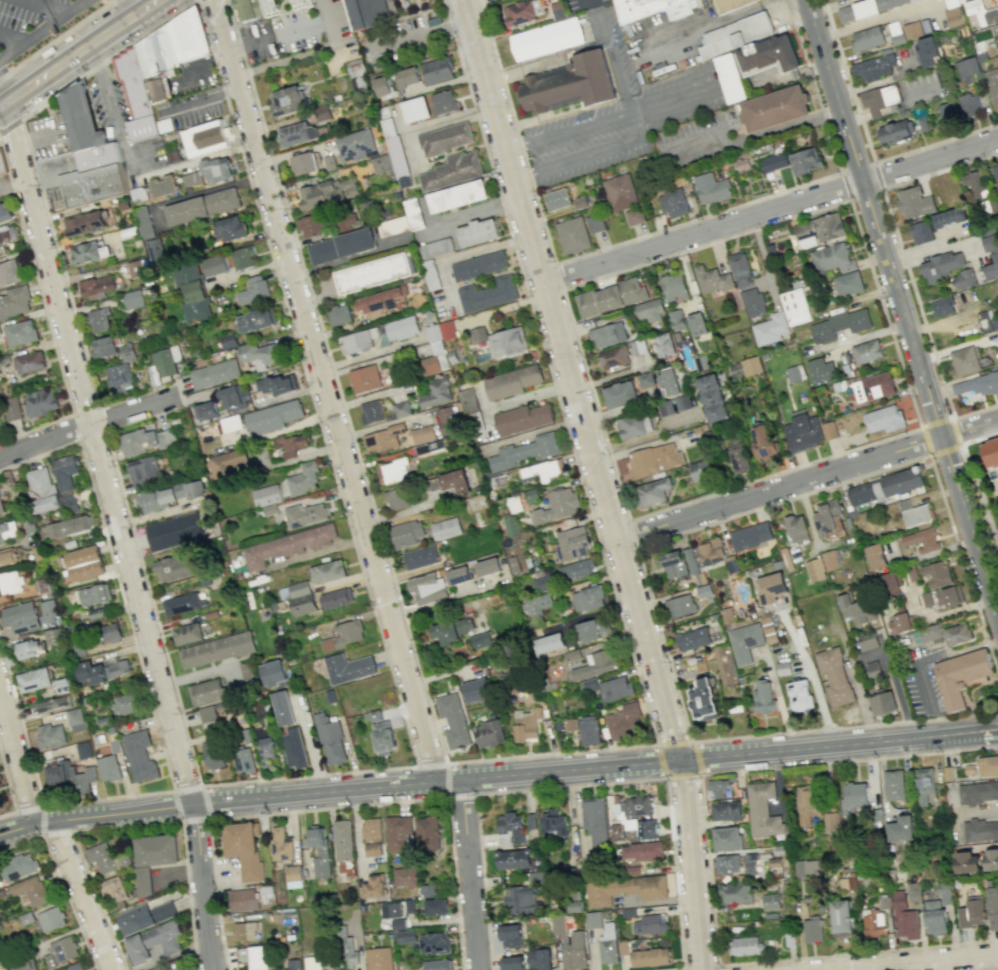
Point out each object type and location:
building: (503, 0)
building: (300, 3)
building: (731, 6)
road: (45, 7)
road: (129, 7)
building: (270, 7)
building: (639, 8)
building: (246, 10)
building: (872, 10)
building: (523, 12)
building: (981, 12)
building: (366, 13)
building: (953, 16)
parking lot: (25, 17)
road: (888, 19)
road: (728, 21)
road: (315, 24)
building: (912, 29)
road: (44, 30)
building: (188, 35)
road: (425, 36)
building: (735, 36)
road: (56, 38)
parking lot: (665, 38)
building: (866, 38)
road: (12, 39)
building: (546, 40)
road: (243, 42)
parking lot: (256, 42)
building: (996, 45)
building: (927, 50)
road: (76, 51)
road: (612, 54)
building: (768, 57)
road: (108, 58)
building: (157, 63)
building: (874, 66)
building: (354, 67)
building: (967, 67)
road: (201, 69)
building: (437, 70)
road: (790, 73)
parking lot: (193, 76)
building: (408, 77)
building: (730, 79)
road: (848, 81)
building: (383, 85)
building: (574, 85)
road: (813, 85)
building: (992, 85)
road: (2, 94)
parking lot: (681, 96)
building: (138, 98)
building: (879, 98)
road: (200, 99)
building: (288, 100)
road: (670, 101)
building: (443, 102)
building: (971, 103)
parking lot: (191, 107)
road: (111, 108)
building: (415, 109)
building: (775, 110)
building: (947, 111)
building: (81, 118)
parking lot: (121, 122)
road: (9, 124)
road: (637, 126)
road: (764, 132)
building: (896, 132)
building: (298, 134)
parking lot: (49, 135)
building: (204, 138)
building: (445, 138)
road: (35, 140)
parking lot: (699, 142)
road: (935, 143)
building: (355, 145)
building: (395, 152)
road: (196, 160)
building: (805, 161)
building: (774, 162)
building: (302, 163)
building: (380, 163)
building: (2, 164)
road: (856, 167)
building: (217, 170)
road: (939, 170)
building: (452, 171)
building: (84, 174)
building: (995, 174)
road: (877, 175)
building: (192, 178)
road: (11, 181)
building: (974, 183)
road: (845, 184)
parking lot: (4, 185)
building: (162, 185)
building: (711, 188)
building: (327, 192)
building: (138, 194)
road: (865, 194)
building: (457, 195)
building: (623, 197)
building: (556, 199)
building: (673, 202)
building: (914, 202)
building: (202, 206)
road: (771, 210)
building: (5, 212)
building: (413, 213)
building: (949, 217)
building: (144, 222)
building: (85, 223)
building: (595, 223)
building: (310, 225)
building: (393, 226)
building: (231, 228)
building: (818, 230)
building: (478, 232)
building: (920, 232)
building: (7, 233)
building: (572, 235)
building: (341, 246)
building: (436, 248)
building: (88, 252)
building: (156, 252)
building: (991, 253)
building: (243, 257)
road: (566, 258)
building: (832, 258)
road: (58, 260)
road: (766, 262)
building: (215, 265)
building: (478, 265)
building: (940, 266)
building: (135, 268)
building: (740, 269)
building: (374, 272)
building: (9, 273)
road: (557, 276)
road: (590, 279)
building: (711, 279)
building: (963, 279)
building: (848, 283)
building: (97, 285)
building: (673, 286)
building: (253, 290)
building: (192, 293)
building: (488, 294)
building: (610, 297)
building: (133, 299)
building: (381, 300)
building: (14, 302)
building: (752, 302)
road: (916, 303)
building: (942, 305)
building: (795, 306)
road: (902, 306)
building: (649, 310)
road: (885, 313)
building: (339, 314)
road: (45, 316)
building: (676, 319)
building: (99, 320)
building: (257, 320)
building: (987, 320)
building: (840, 323)
building: (697, 324)
building: (770, 328)
building: (20, 333)
building: (478, 334)
building: (608, 334)
building: (379, 335)
building: (229, 340)
building: (508, 342)
building: (663, 345)
building: (437, 346)
building: (103, 347)
building: (866, 351)
building: (126, 353)
building: (261, 354)
building: (613, 357)
building: (964, 360)
building: (167, 361)
building: (29, 362)
building: (751, 365)
building: (821, 371)
building: (214, 373)
building: (794, 373)
building: (119, 377)
building: (365, 378)
building: (645, 380)
building: (668, 380)
building: (511, 382)
building: (277, 384)
building: (978, 385)
building: (873, 387)
road: (326, 389)
building: (436, 392)
building: (620, 394)
building: (233, 397)
building: (711, 398)
building: (468, 401)
building: (39, 402)
building: (682, 402)
building: (11, 408)
building: (401, 409)
building: (206, 411)
building: (371, 411)
road: (974, 411)
building: (276, 416)
building: (522, 418)
building: (884, 419)
building: (446, 420)
road: (935, 422)
road: (88, 423)
building: (230, 423)
building: (635, 425)
building: (828, 430)
road: (955, 430)
building: (802, 431)
building: (423, 434)
road: (646, 437)
road: (978, 438)
building: (382, 439)
road: (79, 440)
building: (144, 440)
building: (763, 441)
road: (924, 441)
building: (291, 444)
road: (943, 449)
building: (524, 451)
road: (95, 452)
building: (991, 452)
building: (737, 456)
road: (300, 457)
building: (654, 459)
building: (228, 466)
building: (701, 469)
building: (142, 470)
building: (392, 471)
building: (543, 471)
building: (64, 472)
road: (774, 474)
road: (808, 478)
building: (303, 479)
building: (454, 480)
road: (601, 481)
building: (39, 482)
building: (433, 483)
building: (885, 486)
road: (338, 488)
building: (195, 489)
building: (653, 491)
road: (980, 493)
building: (266, 495)
building: (162, 496)
building: (396, 498)
building: (69, 501)
building: (47, 503)
building: (1, 505)
building: (557, 505)
building: (270, 510)
building: (913, 513)
building: (305, 514)
building: (826, 518)
building: (68, 526)
building: (445, 528)
building: (796, 528)
road: (685, 530)
building: (8, 531)
building: (174, 532)
building: (406, 533)
road: (632, 533)
building: (751, 535)
building: (922, 540)
building: (572, 544)
building: (287, 545)
building: (712, 552)
building: (420, 556)
building: (876, 556)
building: (7, 557)
building: (830, 560)
building: (84, 563)
building: (679, 563)
building: (488, 566)
road: (963, 566)
building: (176, 567)
building: (576, 569)
building: (815, 569)
building: (327, 571)
building: (936, 574)
building: (458, 575)
building: (542, 581)
building: (10, 582)
building: (890, 583)
building: (424, 586)
building: (772, 587)
building: (93, 595)
building: (298, 597)
building: (943, 597)
building: (335, 598)
building: (588, 598)
building: (183, 603)
building: (538, 604)
building: (679, 606)
road: (152, 608)
building: (856, 609)
building: (49, 611)
road: (942, 613)
building: (20, 617)
building: (899, 623)
building: (594, 629)
building: (453, 630)
building: (110, 632)
building: (930, 633)
building: (186, 634)
building: (956, 634)
building: (344, 635)
building: (53, 636)
building: (692, 639)
building: (481, 640)
building: (869, 640)
building: (549, 642)
building: (745, 642)
building: (28, 648)
building: (216, 649)
road: (921, 661)
building: (595, 665)
building: (348, 667)
building: (873, 669)
building: (102, 670)
building: (273, 673)
building: (960, 674)
building: (834, 676)
building: (32, 679)
parking lot: (922, 679)
road: (972, 681)
building: (615, 688)
building: (475, 690)
building: (205, 692)
building: (800, 695)
road: (970, 695)
building: (764, 697)
fountain: (987, 697)
building: (704, 700)
building: (124, 703)
building: (883, 703)
building: (50, 705)
building: (283, 708)
road: (153, 716)
building: (208, 716)
building: (75, 719)
building: (453, 720)
building: (625, 721)
building: (570, 724)
road: (844, 725)
building: (589, 730)
building: (489, 732)
building: (381, 733)
building: (49, 735)
building: (330, 740)
road: (673, 742)
road: (308, 744)
building: (264, 745)
building: (293, 748)
building: (83, 749)
building: (212, 750)
road: (541, 754)
building: (139, 755)
building: (243, 761)
road: (432, 765)
building: (987, 765)
building: (108, 768)
road: (497, 774)
building: (70, 776)
road: (683, 777)
road: (583, 785)
building: (894, 785)
road: (186, 786)
building: (925, 786)
building: (718, 787)
road: (9, 792)
building: (978, 792)
road: (460, 796)
building: (854, 797)
building: (807, 803)
road: (337, 807)
road: (28, 808)
building: (763, 810)
road: (982, 810)
building: (725, 811)
building: (617, 818)
road: (194, 819)
building: (594, 819)
building: (831, 821)
building: (553, 823)
road: (125, 824)
building: (510, 828)
building: (900, 828)
road: (51, 829)
building: (371, 829)
building: (980, 829)
road: (54, 831)
building: (398, 832)
building: (429, 832)
building: (726, 838)
building: (342, 840)
building: (280, 844)
building: (244, 849)
building: (374, 849)
building: (318, 850)
building: (643, 850)
building: (106, 858)
building: (152, 858)
building: (513, 859)
building: (991, 859)
road: (707, 860)
building: (967, 862)
building: (727, 863)
building: (18, 867)
building: (808, 867)
road: (469, 873)
building: (404, 876)
road: (59, 882)
road: (203, 885)
building: (373, 886)
building: (625, 889)
building: (30, 890)
building: (428, 890)
building: (914, 891)
building: (114, 892)
building: (735, 893)
building: (243, 899)
building: (521, 899)
building: (771, 901)
building: (436, 907)
building: (993, 907)
building: (971, 912)
building: (393, 913)
building: (144, 916)
building: (903, 917)
building: (934, 917)
building: (51, 918)
building: (592, 919)
building: (842, 919)
building: (873, 922)
building: (649, 924)
building: (813, 929)
building: (245, 931)
building: (406, 936)
building: (510, 936)
building: (153, 941)
road: (358, 943)
building: (435, 943)
building: (608, 943)
building: (570, 944)
building: (744, 946)
building: (61, 951)
building: (254, 956)
building: (650, 957)
building: (379, 958)
building: (539, 959)
road: (919, 962)
building: (513, 963)
building: (293, 964)
building: (312, 964)
building: (437, 964)
building: (26, 965)
road: (703, 966)
building: (74, 967)
building: (156, 968)
road: (871, 968)
building: (181, 969)
building: (347, 969)
road: (991, 969)

